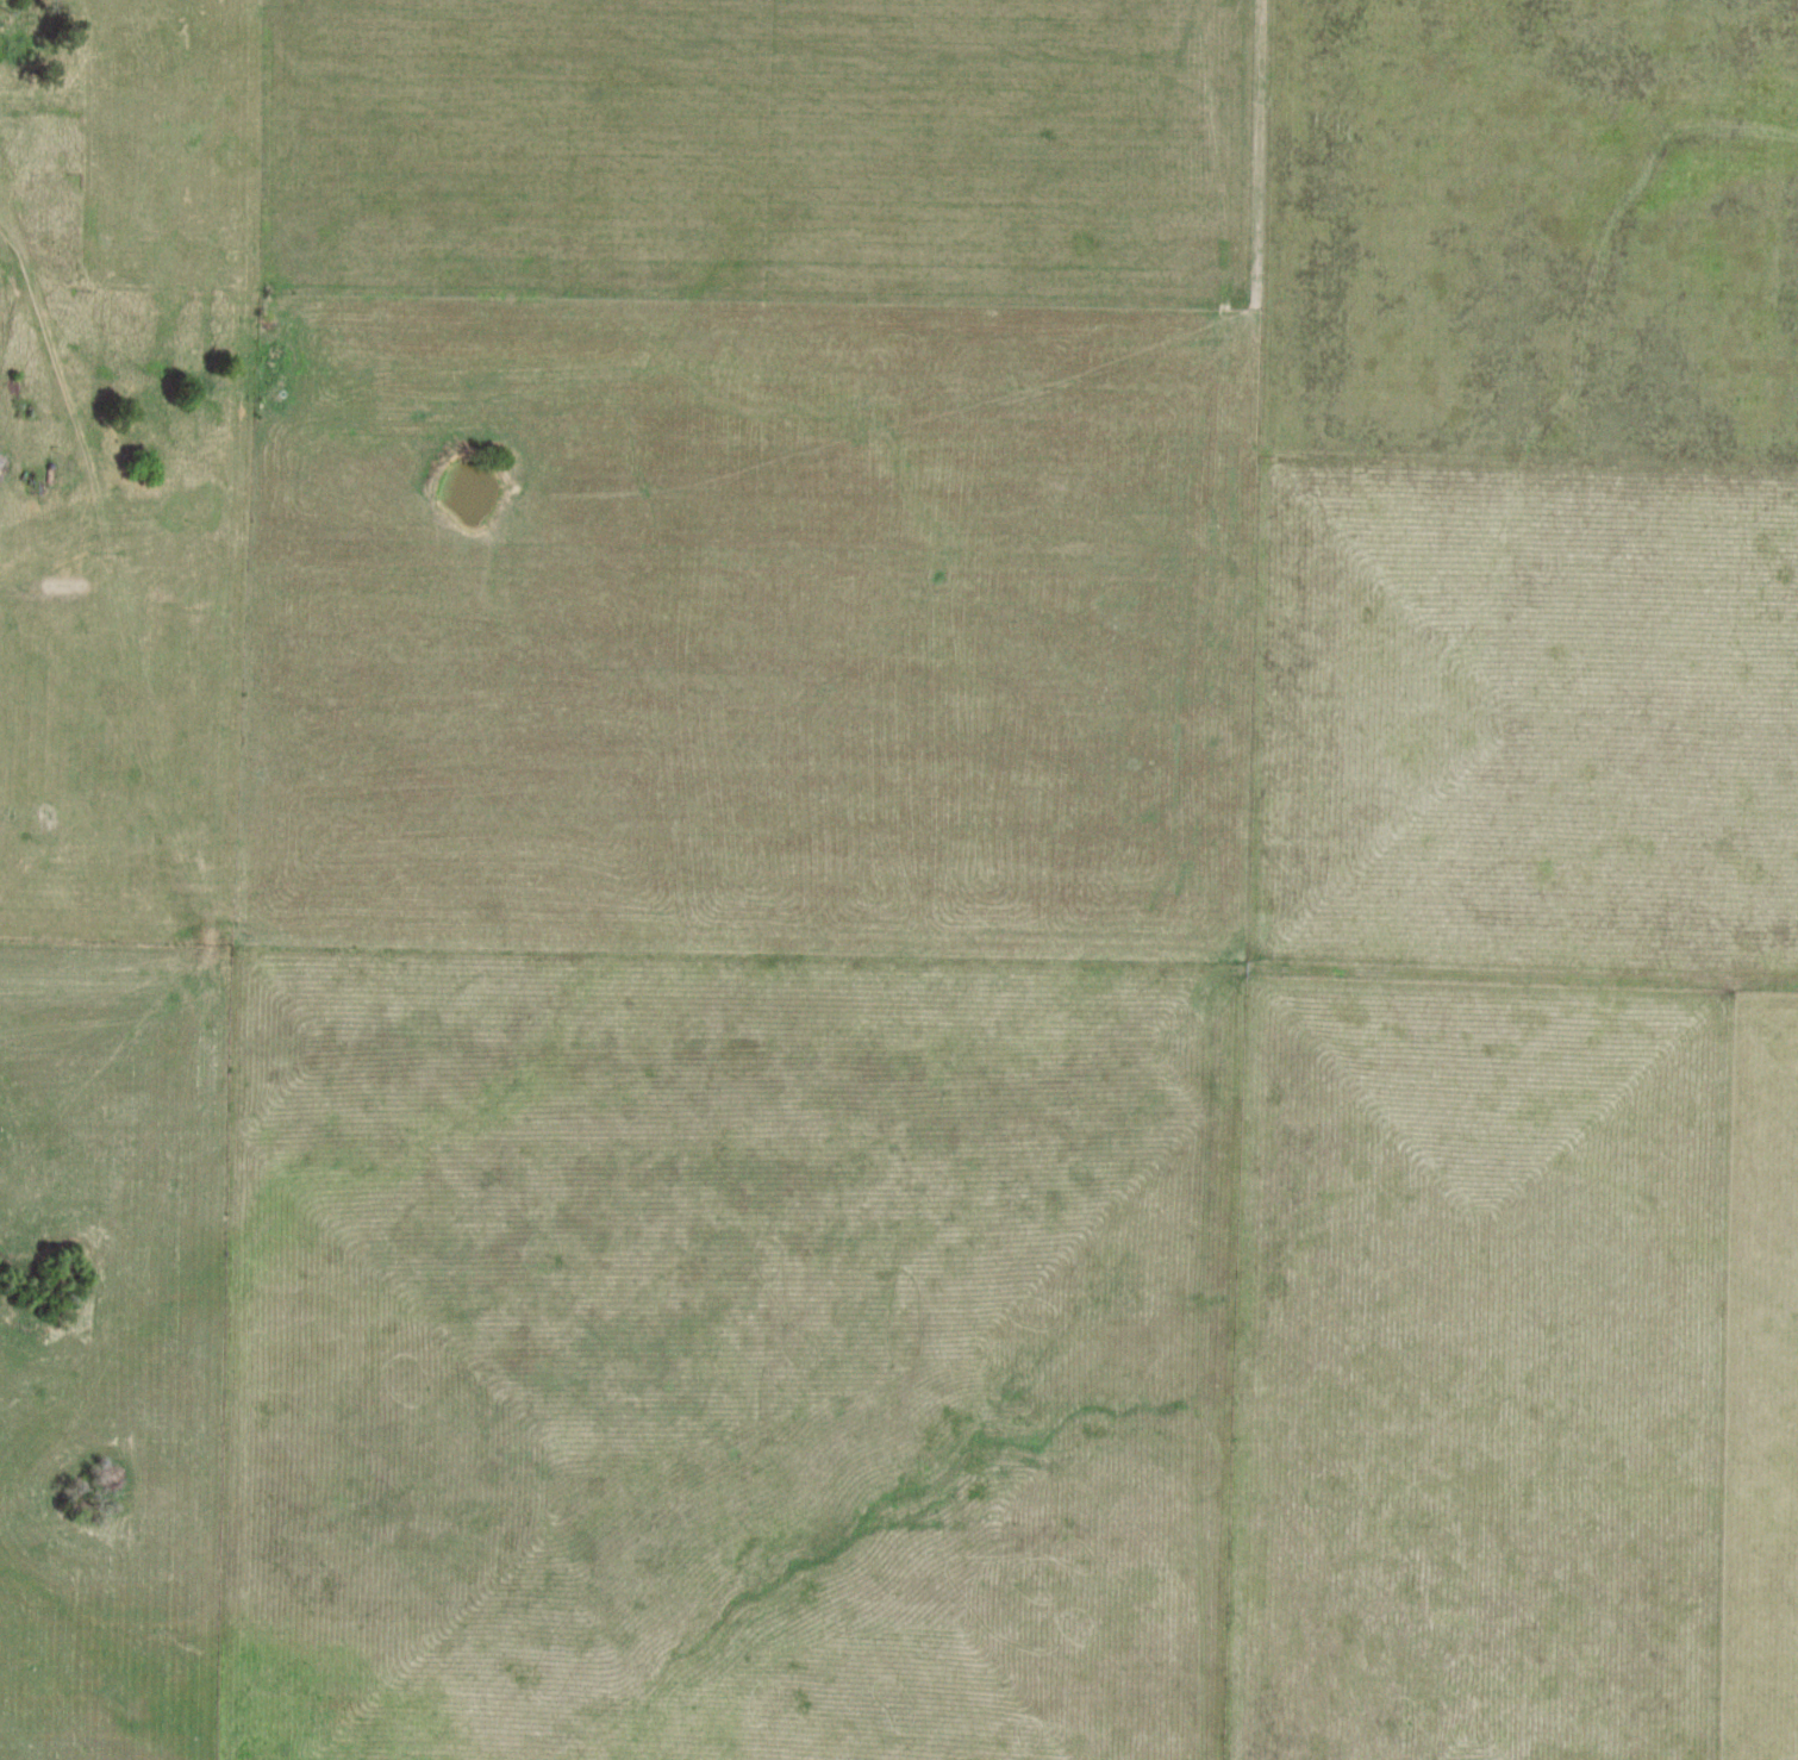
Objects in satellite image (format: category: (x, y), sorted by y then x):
road: (1521, 979)

